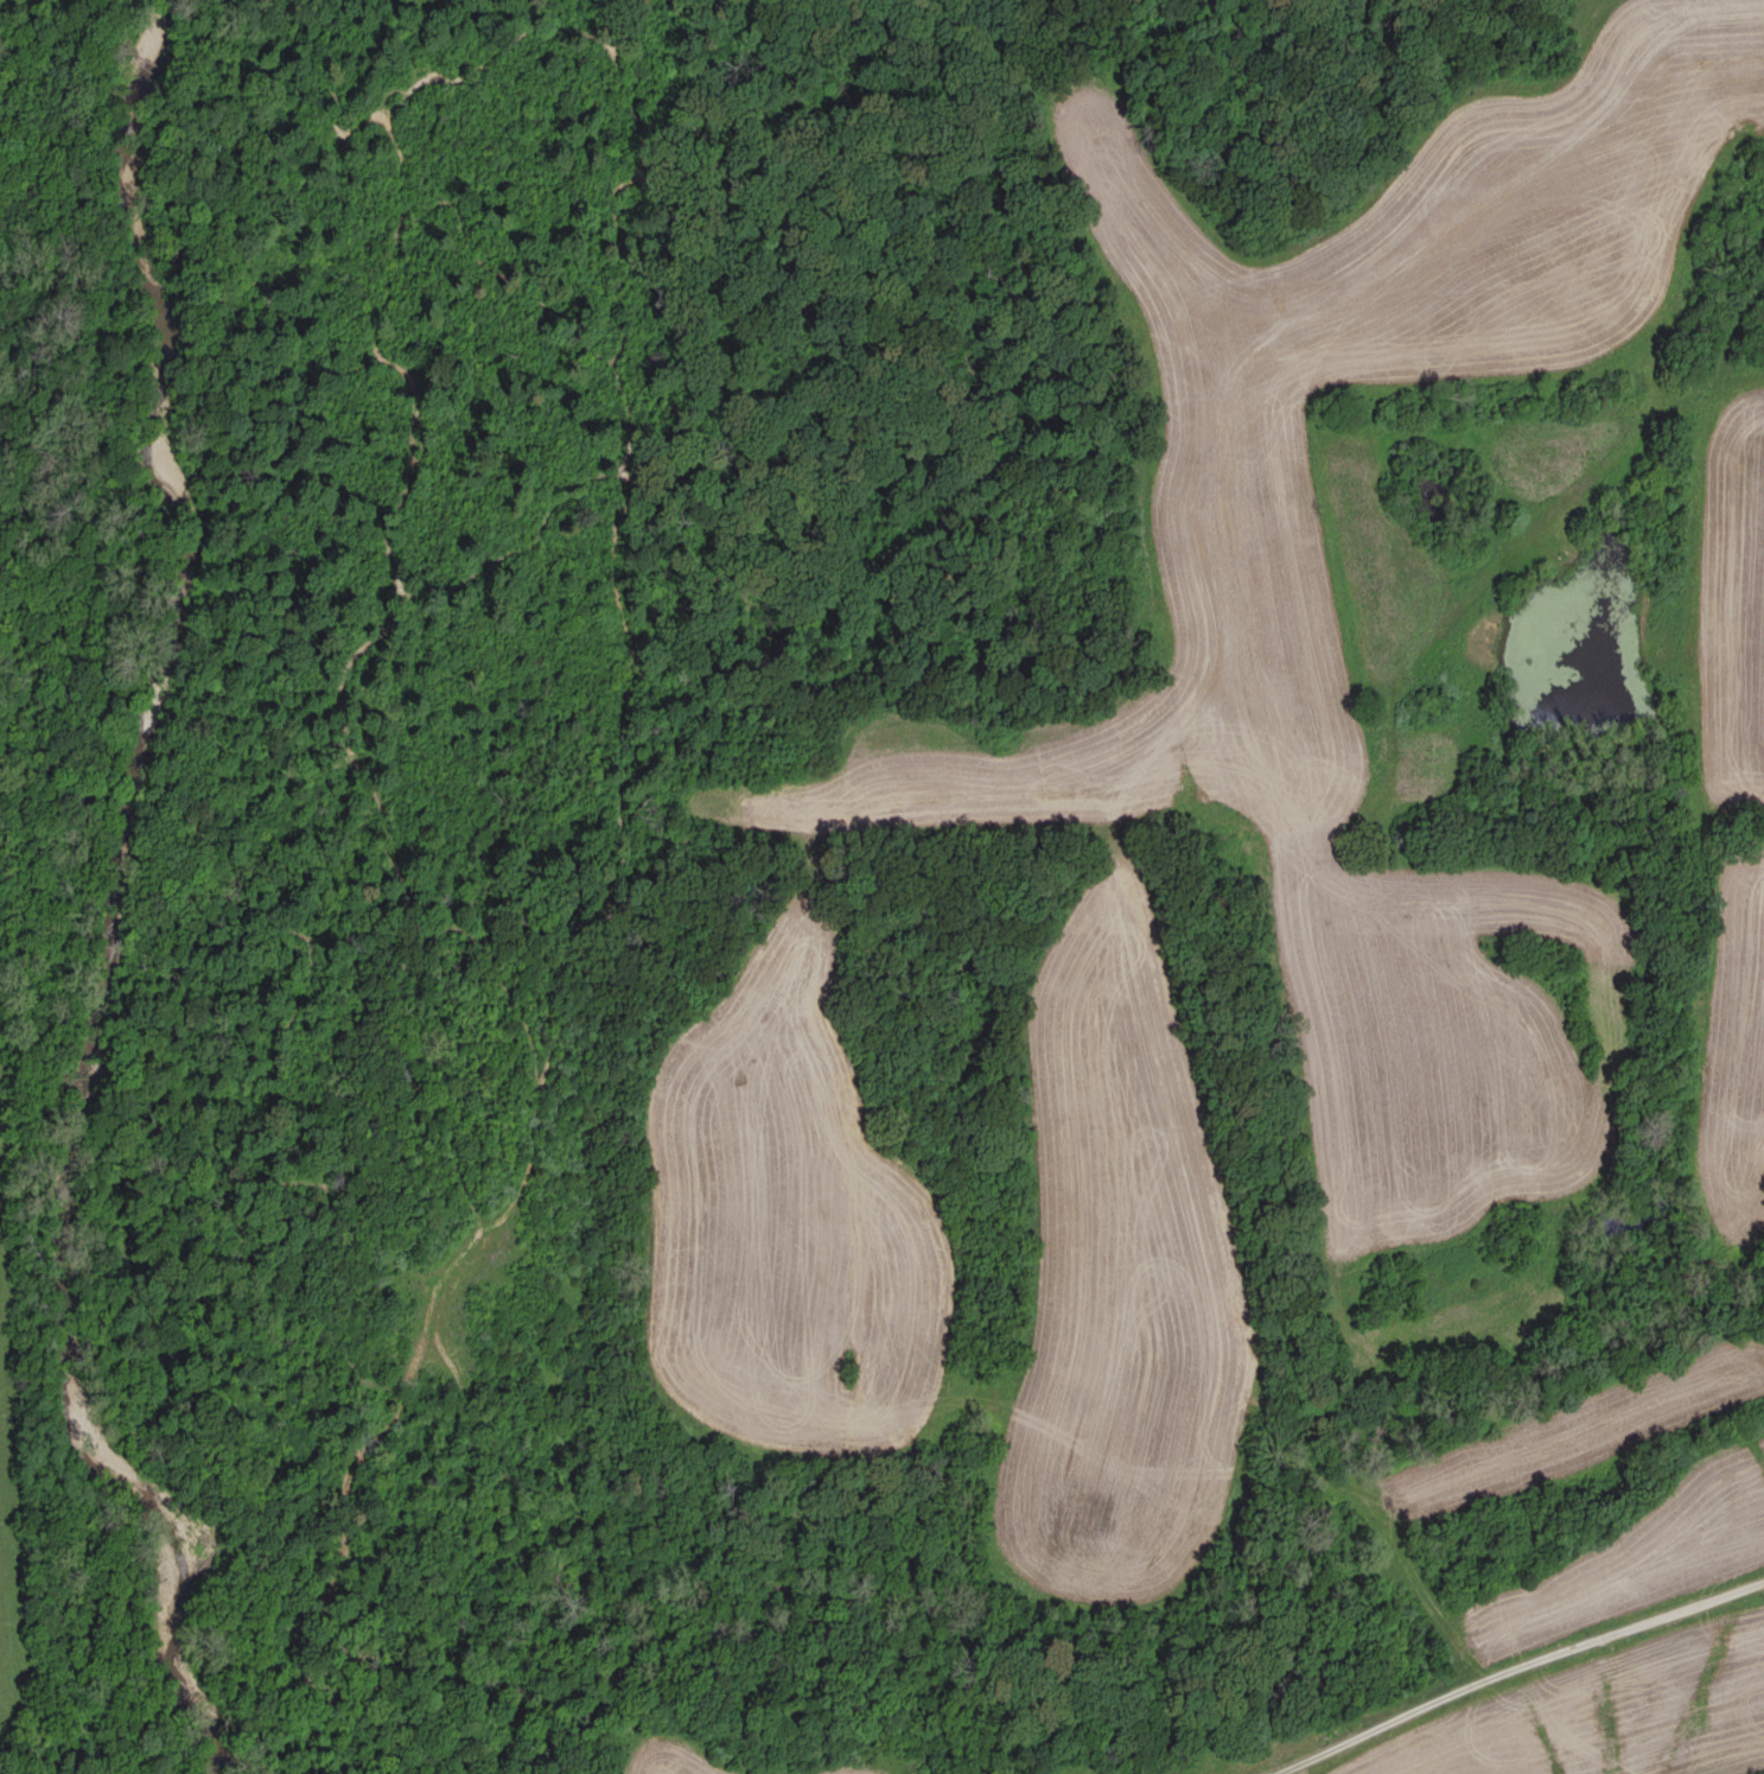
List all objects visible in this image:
road: (1518, 1667)

